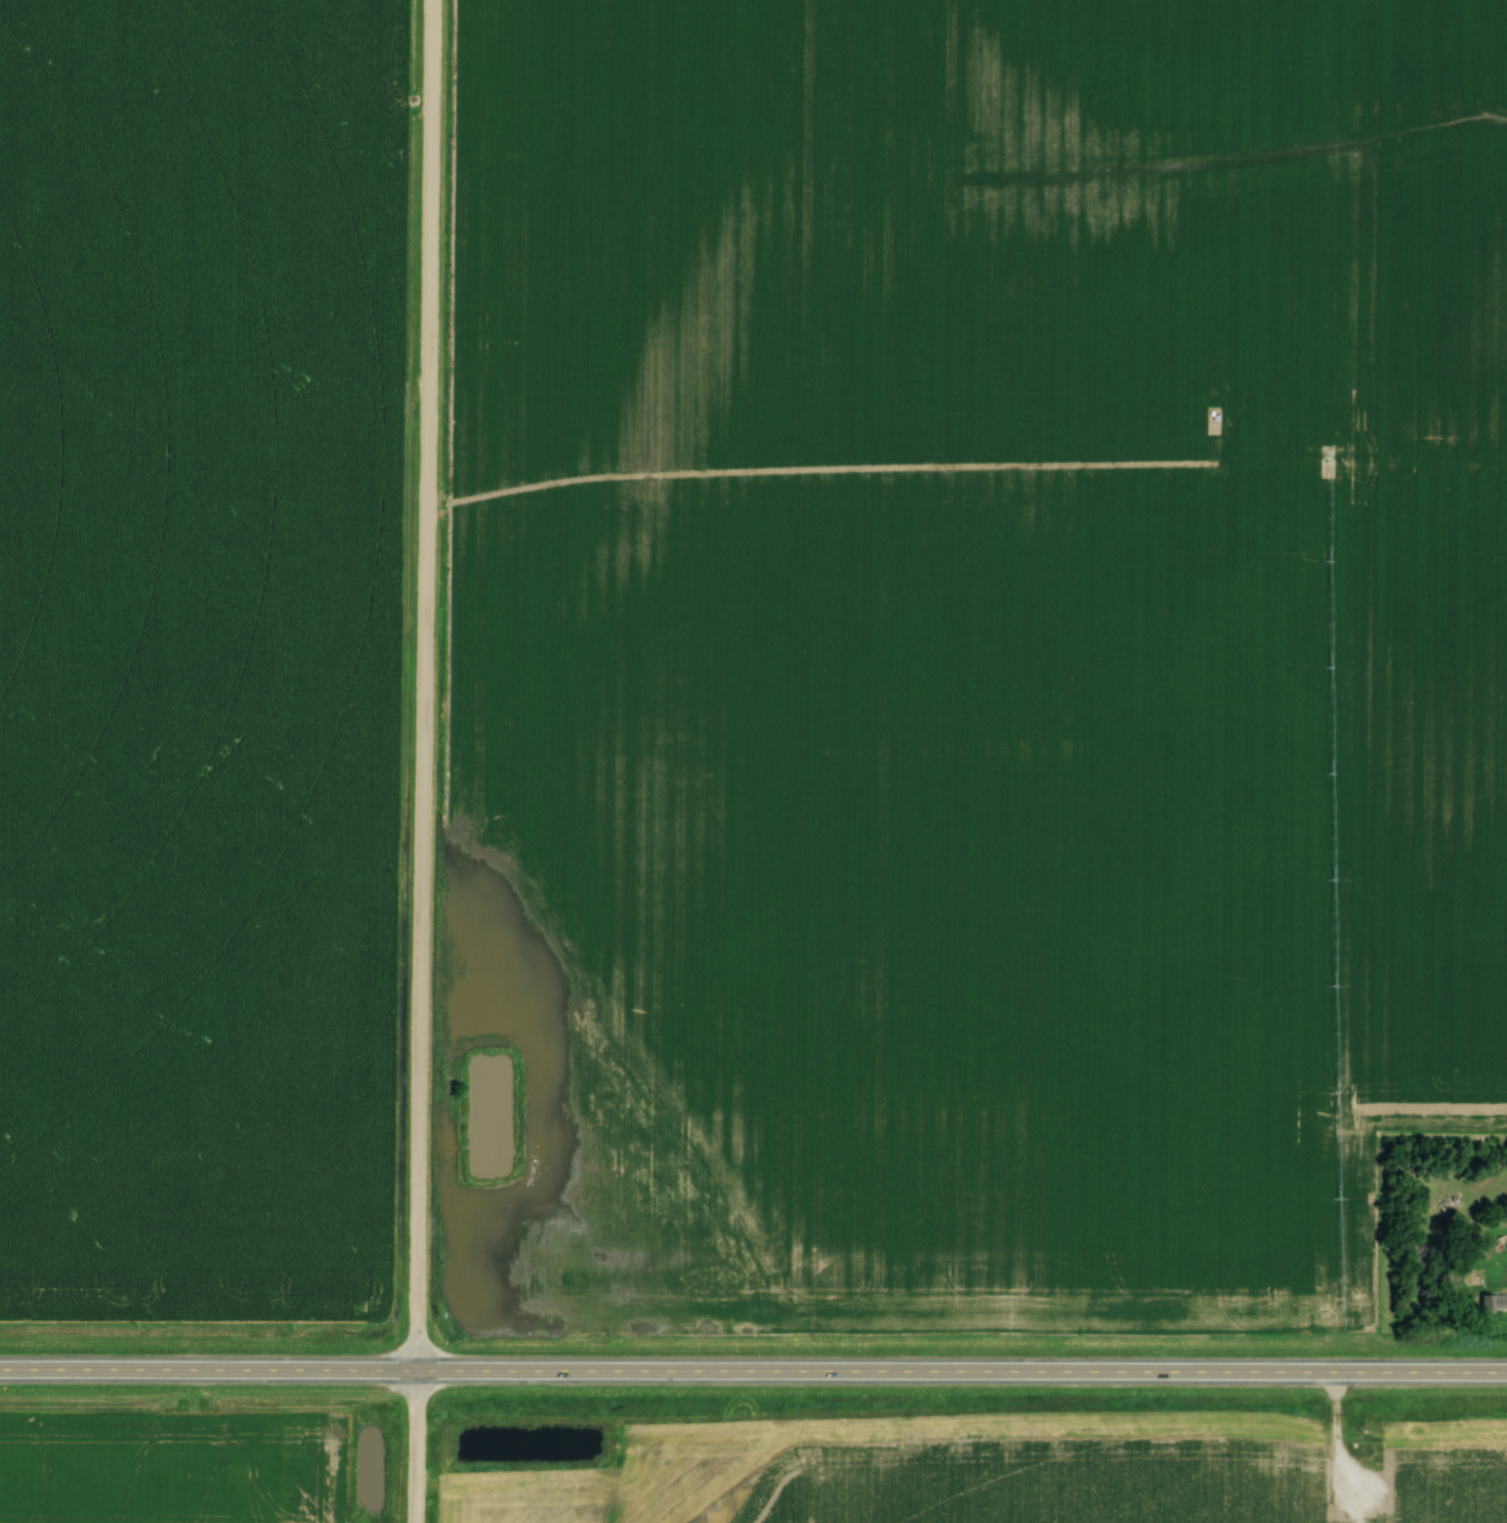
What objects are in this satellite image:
road: (422, 761)
building: (1492, 1303)
road: (753, 1375)

